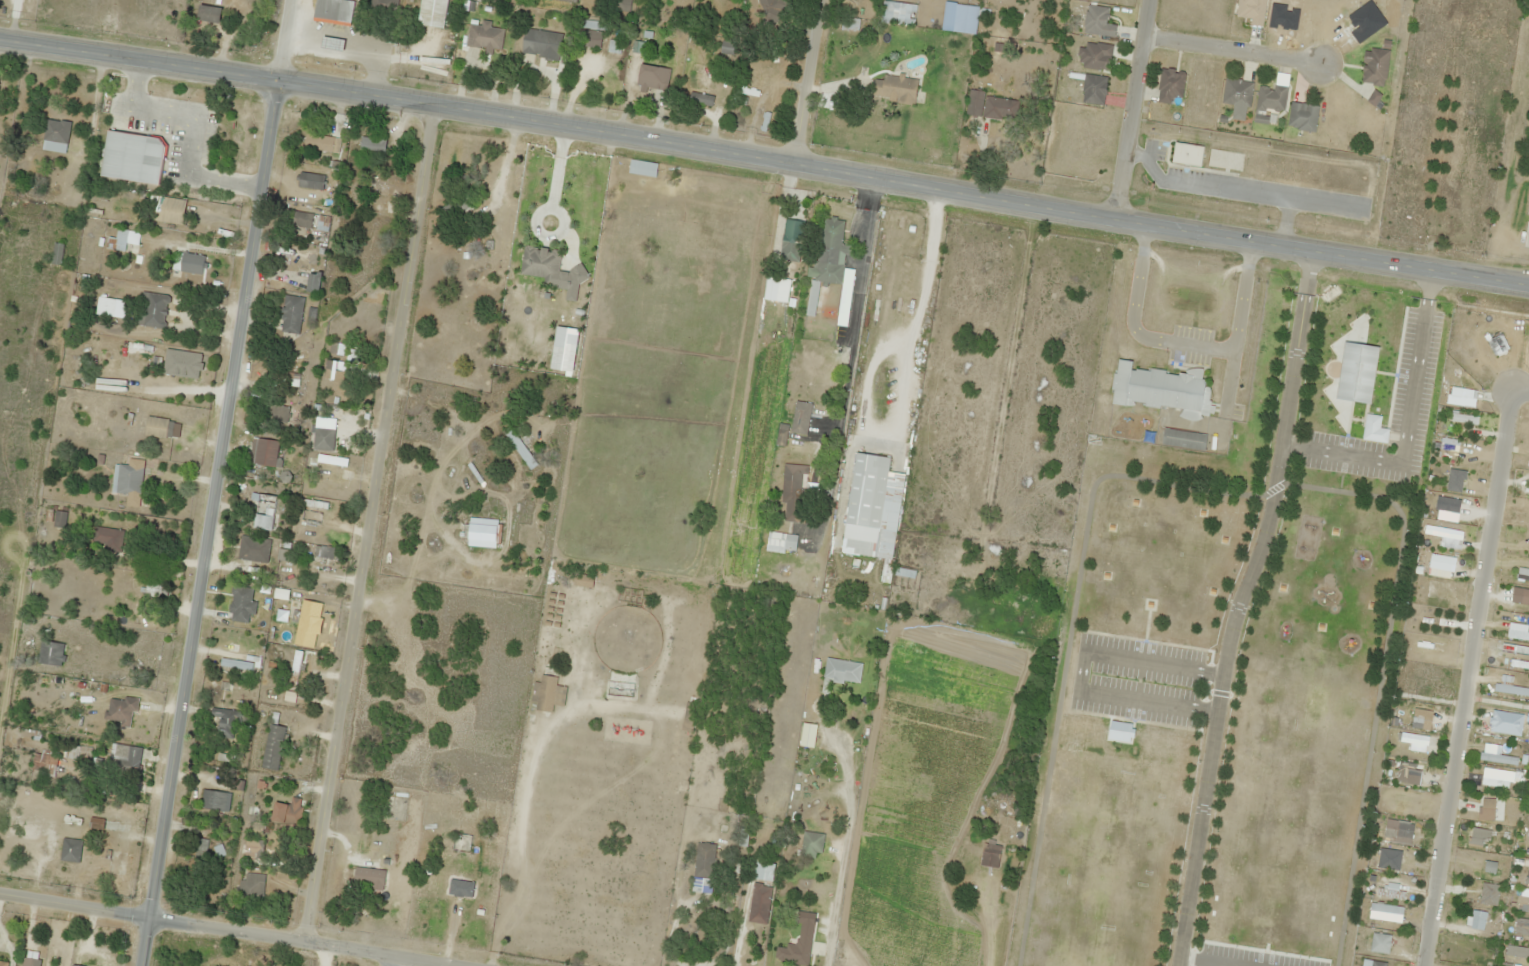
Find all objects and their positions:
building: (565, 0)
building: (621, 4)
building: (381, 8)
building: (770, 9)
building: (332, 10)
building: (1250, 10)
building: (431, 12)
building: (208, 13)
building: (897, 13)
building: (1364, 20)
building: (1096, 21)
building: (482, 36)
building: (589, 38)
road: (290, 40)
building: (540, 43)
road: (1229, 49)
building: (1094, 55)
building: (1374, 65)
building: (652, 76)
road: (804, 81)
building: (899, 86)
building: (1169, 86)
building: (1092, 89)
building: (1236, 92)
building: (1373, 97)
building: (1270, 98)
building: (991, 106)
road: (1129, 109)
building: (1302, 116)
building: (54, 135)
building: (129, 141)
building: (320, 142)
building: (371, 144)
building: (1187, 153)
road: (764, 159)
building: (641, 168)
building: (102, 170)
building: (310, 180)
building: (168, 181)
building: (375, 186)
building: (454, 207)
building: (168, 210)
building: (545, 213)
building: (889, 218)
building: (309, 221)
building: (909, 222)
building: (126, 238)
building: (789, 246)
building: (826, 259)
building: (187, 263)
building: (312, 282)
building: (151, 309)
building: (290, 314)
building: (563, 349)
building: (184, 361)
building: (1356, 372)
building: (1160, 389)
building: (274, 413)
building: (800, 417)
building: (1371, 421)
building: (161, 427)
building: (322, 433)
building: (1183, 439)
building: (519, 449)
building: (264, 451)
building: (127, 479)
building: (329, 484)
building: (791, 493)
building: (864, 504)
building: (261, 505)
building: (58, 518)
road: (211, 523)
road: (370, 523)
building: (480, 534)
building: (106, 538)
building: (780, 540)
building: (253, 548)
building: (322, 550)
building: (155, 588)
building: (240, 604)
road: (1233, 604)
building: (302, 621)
building: (50, 653)
building: (235, 663)
road: (1468, 669)
building: (841, 671)
building: (119, 711)
building: (225, 722)
building: (807, 735)
building: (271, 747)
building: (126, 756)
building: (212, 800)
building: (286, 812)
building: (31, 813)
building: (95, 822)
building: (69, 849)
building: (252, 849)
building: (200, 850)
building: (989, 855)
building: (704, 860)
building: (763, 871)
building: (368, 876)
building: (251, 884)
building: (758, 903)
building: (804, 917)
road: (220, 929)
building: (793, 953)
building: (29, 961)
building: (2, 962)
road: (392, 962)
building: (72, 965)

